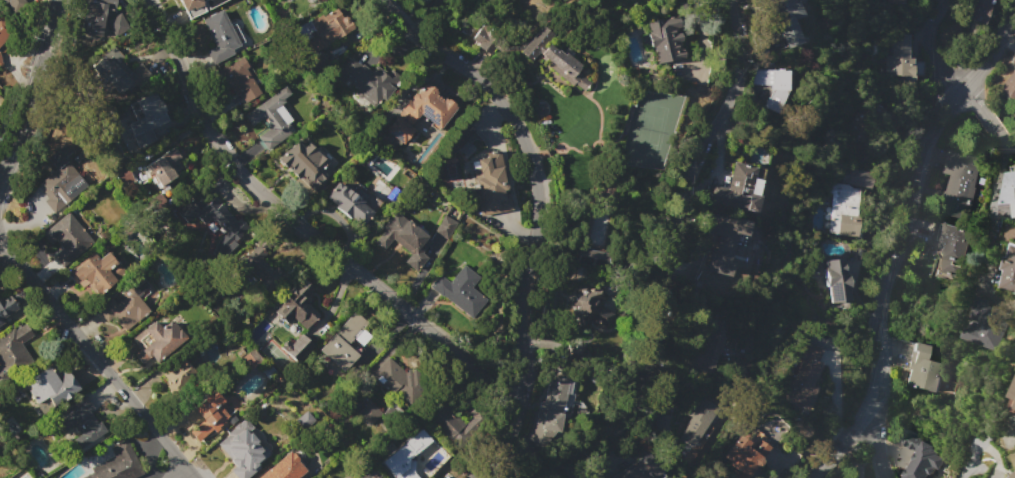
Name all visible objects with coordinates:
building: (424, 1)
building: (894, 1)
building: (11, 2)
building: (188, 4)
building: (779, 9)
building: (976, 10)
building: (104, 19)
building: (5, 29)
building: (324, 29)
building: (220, 36)
building: (484, 38)
building: (663, 39)
road: (929, 50)
building: (552, 57)
building: (898, 57)
building: (1, 60)
building: (316, 64)
building: (118, 70)
building: (239, 80)
building: (367, 80)
road: (31, 85)
building: (774, 86)
building: (1009, 86)
road: (974, 100)
building: (2, 102)
building: (420, 112)
building: (144, 118)
building: (272, 118)
building: (867, 122)
road: (994, 124)
road: (1009, 141)
building: (170, 155)
building: (861, 158)
building: (305, 163)
building: (122, 175)
building: (855, 177)
building: (958, 183)
building: (491, 185)
building: (61, 186)
building: (737, 189)
building: (1008, 189)
building: (348, 202)
road: (991, 209)
building: (844, 210)
building: (214, 216)
road: (541, 216)
road: (300, 227)
building: (445, 227)
building: (67, 238)
road: (900, 238)
building: (404, 239)
building: (721, 245)
building: (951, 246)
building: (592, 258)
road: (672, 259)
building: (261, 269)
building: (1008, 271)
building: (94, 273)
building: (835, 280)
building: (459, 291)
building: (125, 305)
building: (296, 305)
building: (591, 306)
building: (5, 308)
building: (985, 327)
building: (156, 341)
building: (344, 342)
building: (298, 347)
building: (709, 348)
building: (574, 350)
building: (14, 351)
road: (93, 358)
building: (251, 358)
building: (922, 369)
building: (267, 370)
building: (176, 371)
building: (804, 377)
building: (397, 378)
building: (49, 385)
building: (1012, 398)
building: (368, 413)
building: (550, 413)
building: (208, 414)
building: (305, 419)
building: (696, 420)
building: (80, 421)
building: (445, 421)
building: (661, 422)
road: (877, 444)
building: (242, 449)
building: (745, 452)
building: (919, 455)
building: (404, 457)
building: (117, 464)
building: (285, 468)
building: (639, 469)
building: (1013, 475)

